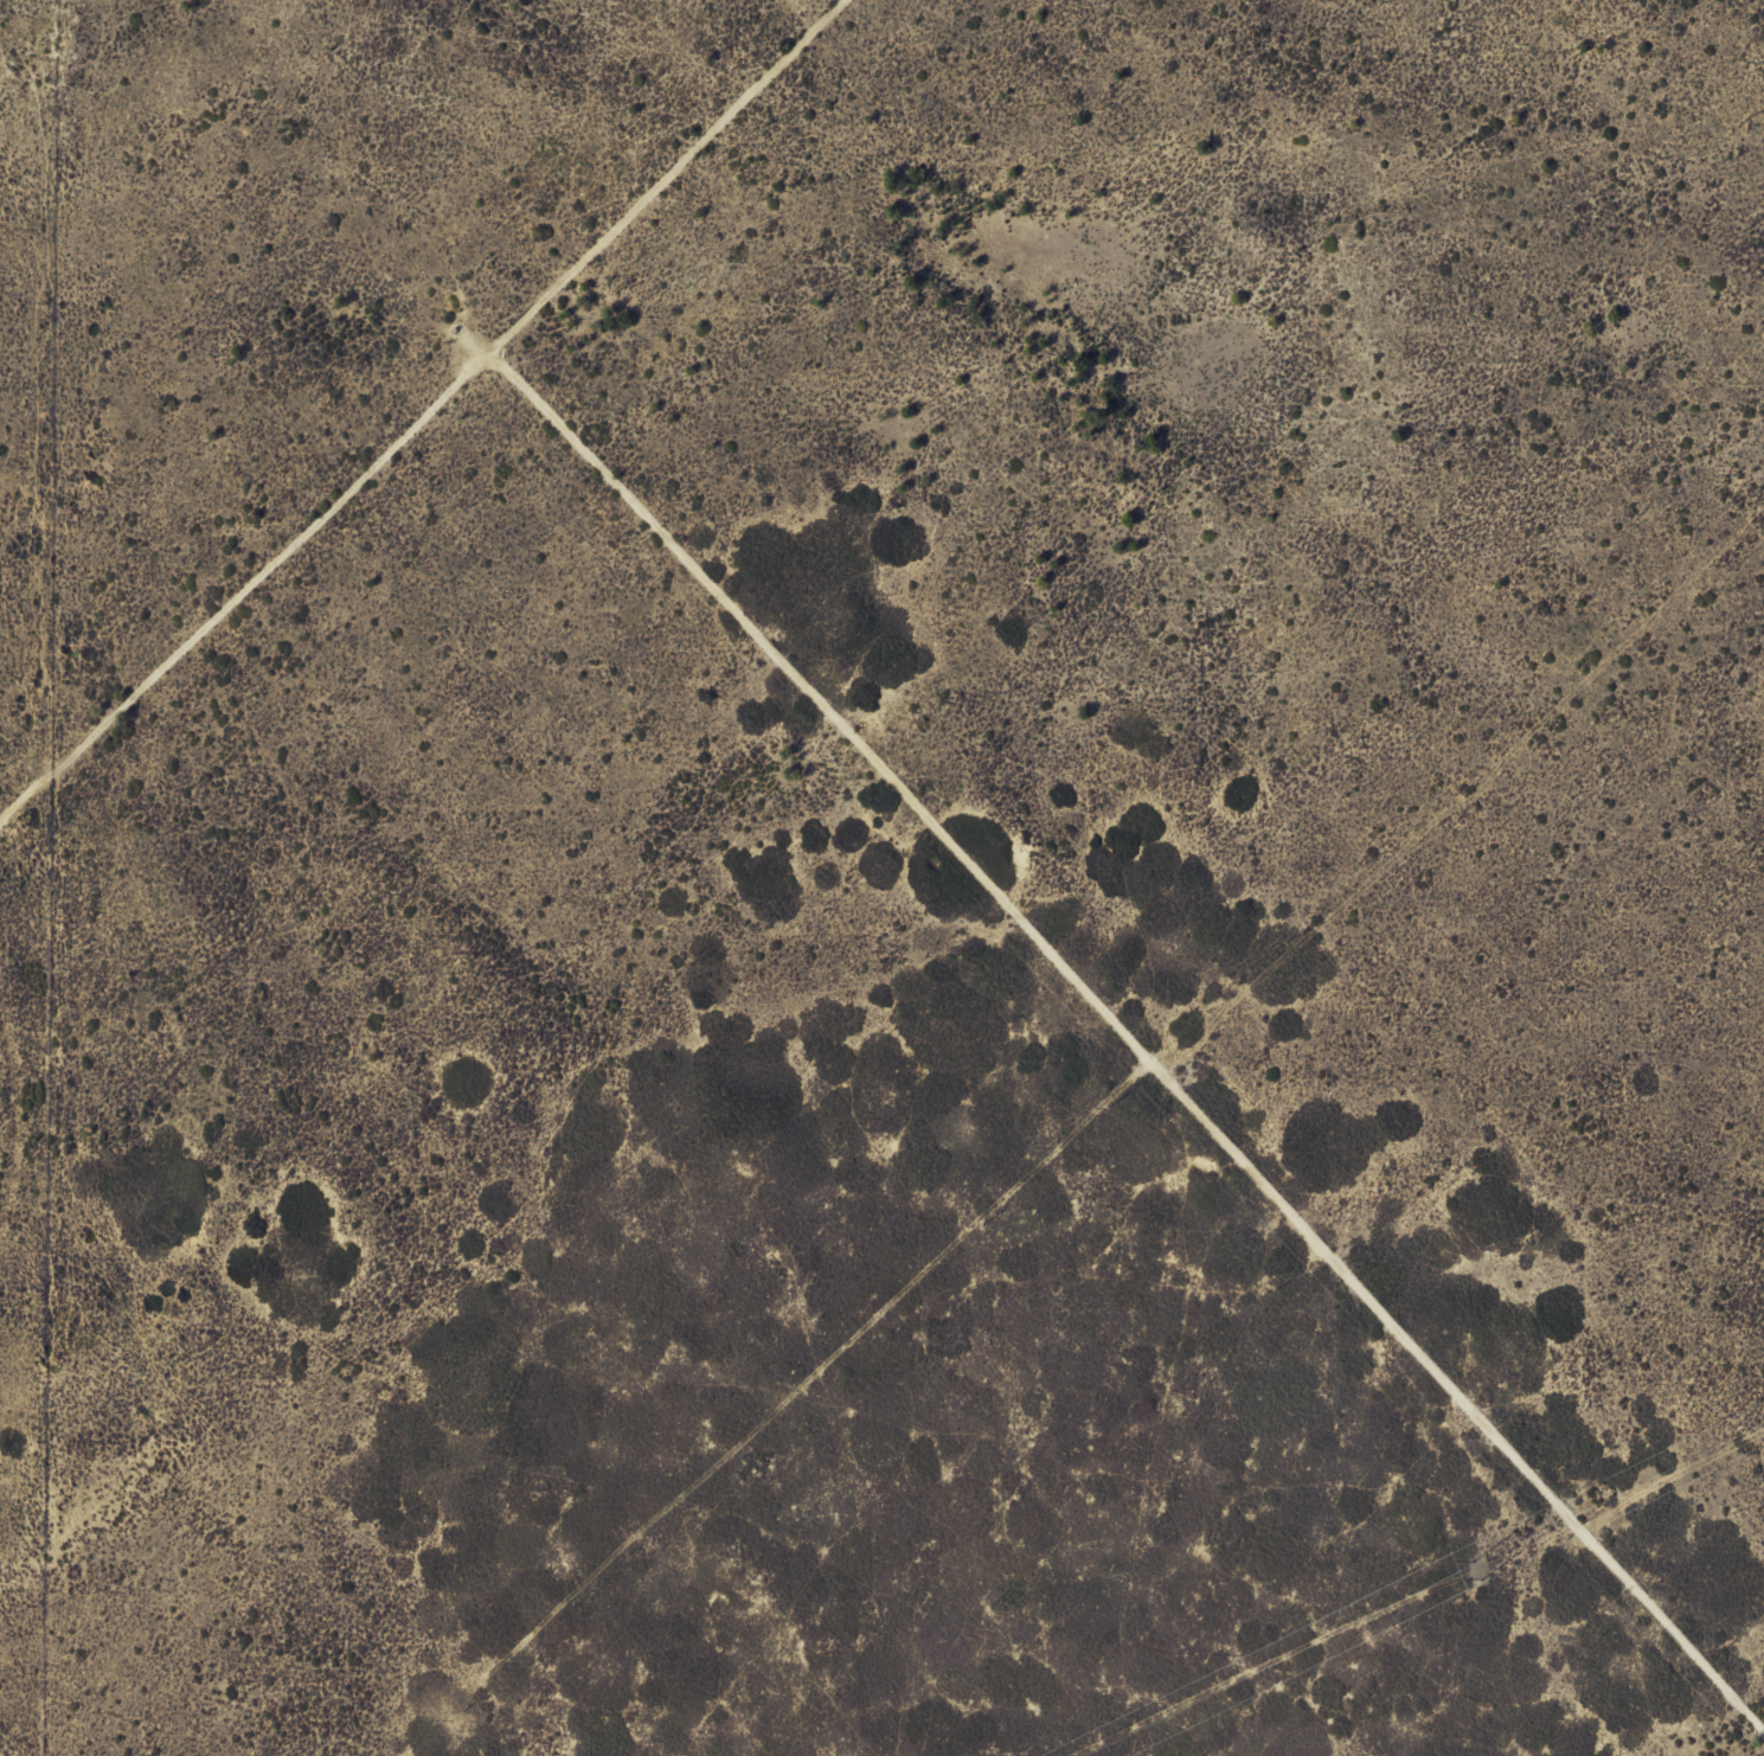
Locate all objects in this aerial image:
power tower: (1474, 1568)

